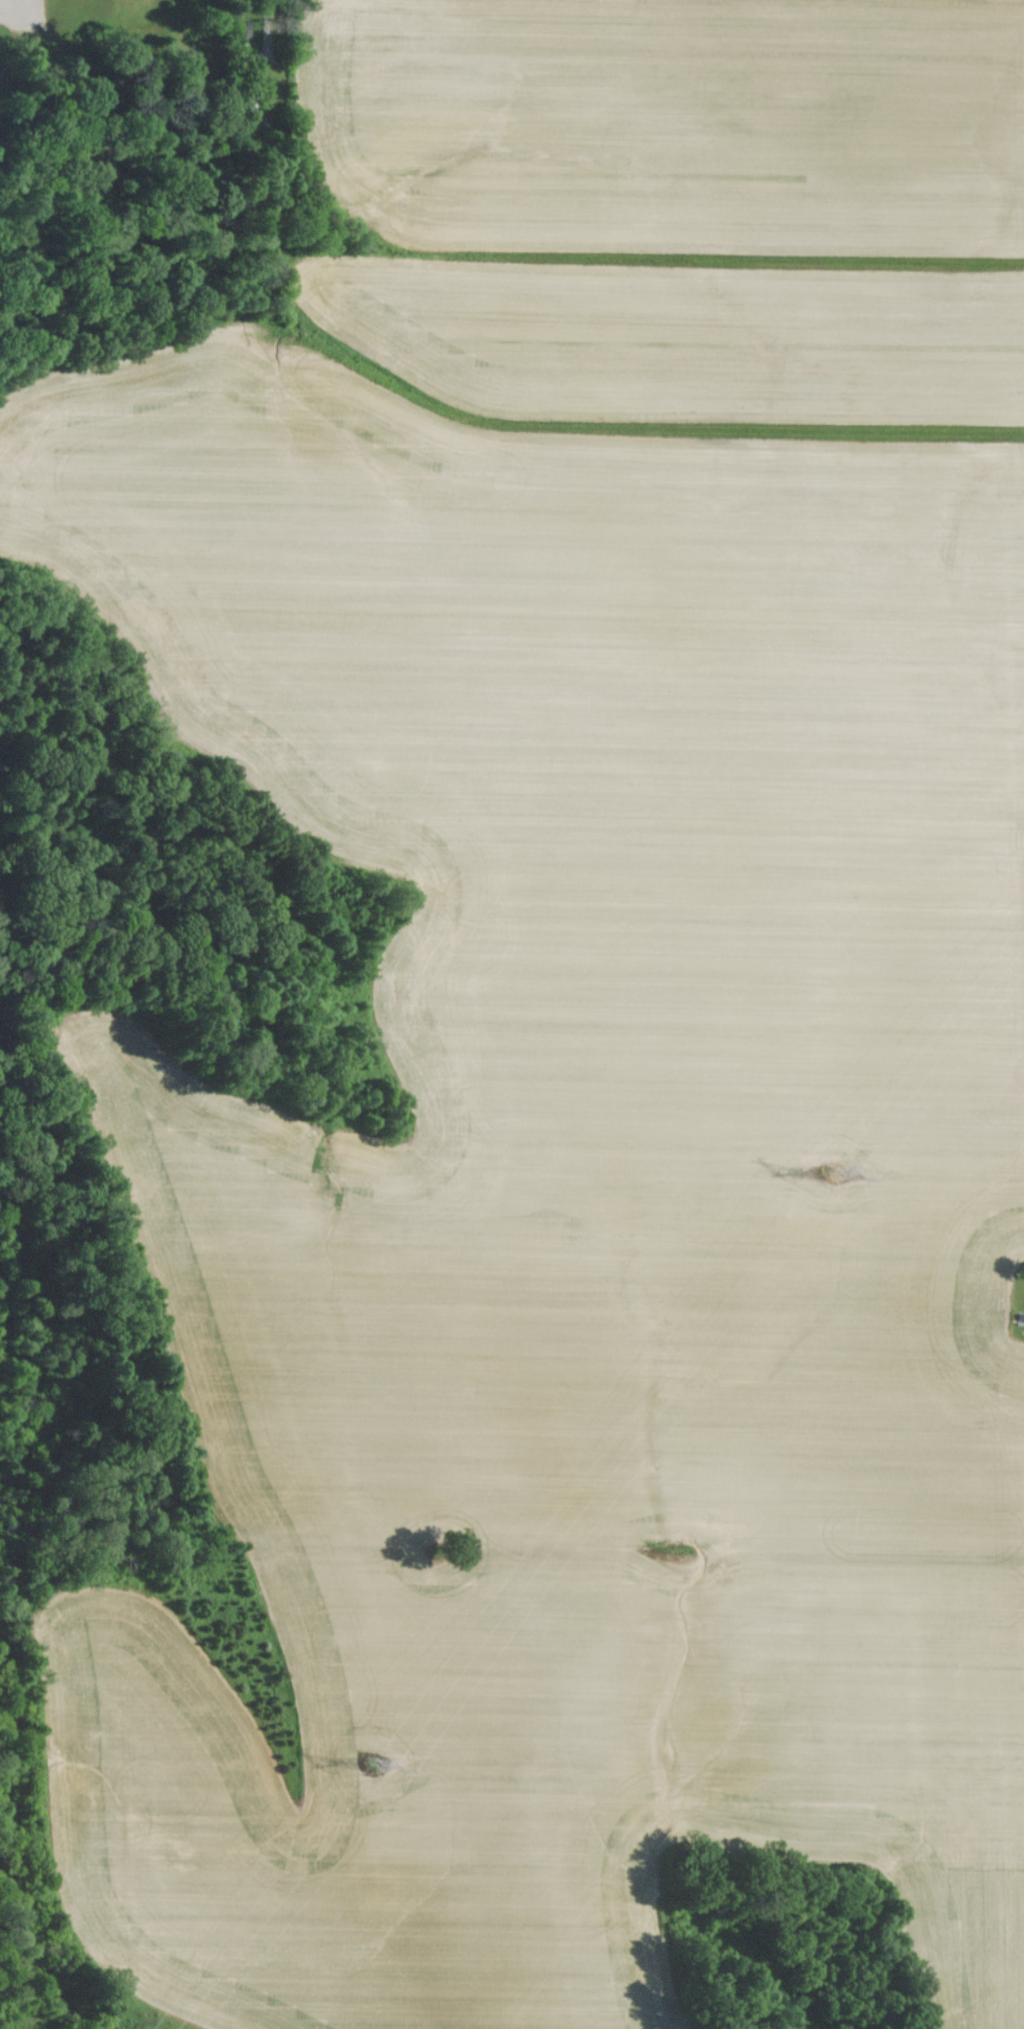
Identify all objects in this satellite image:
building: (240, 30)
power tower: (831, 1175)
power tower: (371, 1763)

